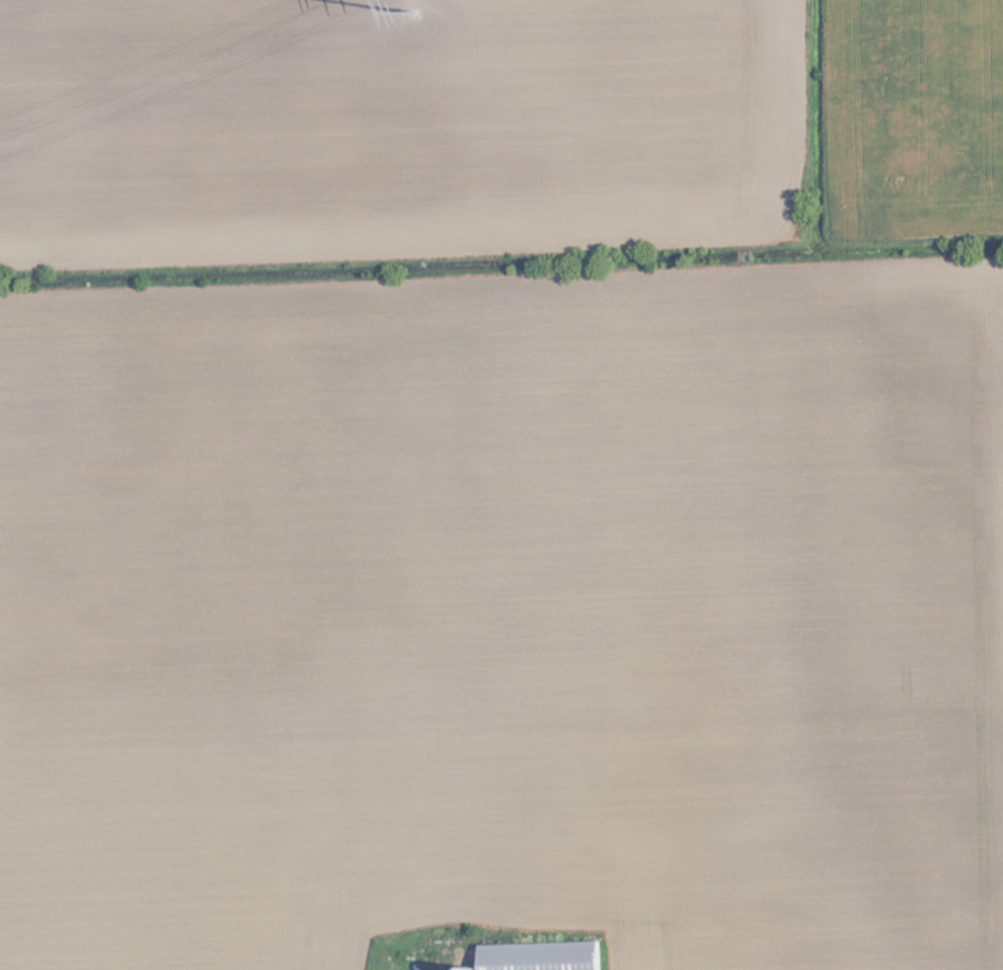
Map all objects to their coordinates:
power tower: (417, 11)
building: (548, 956)

